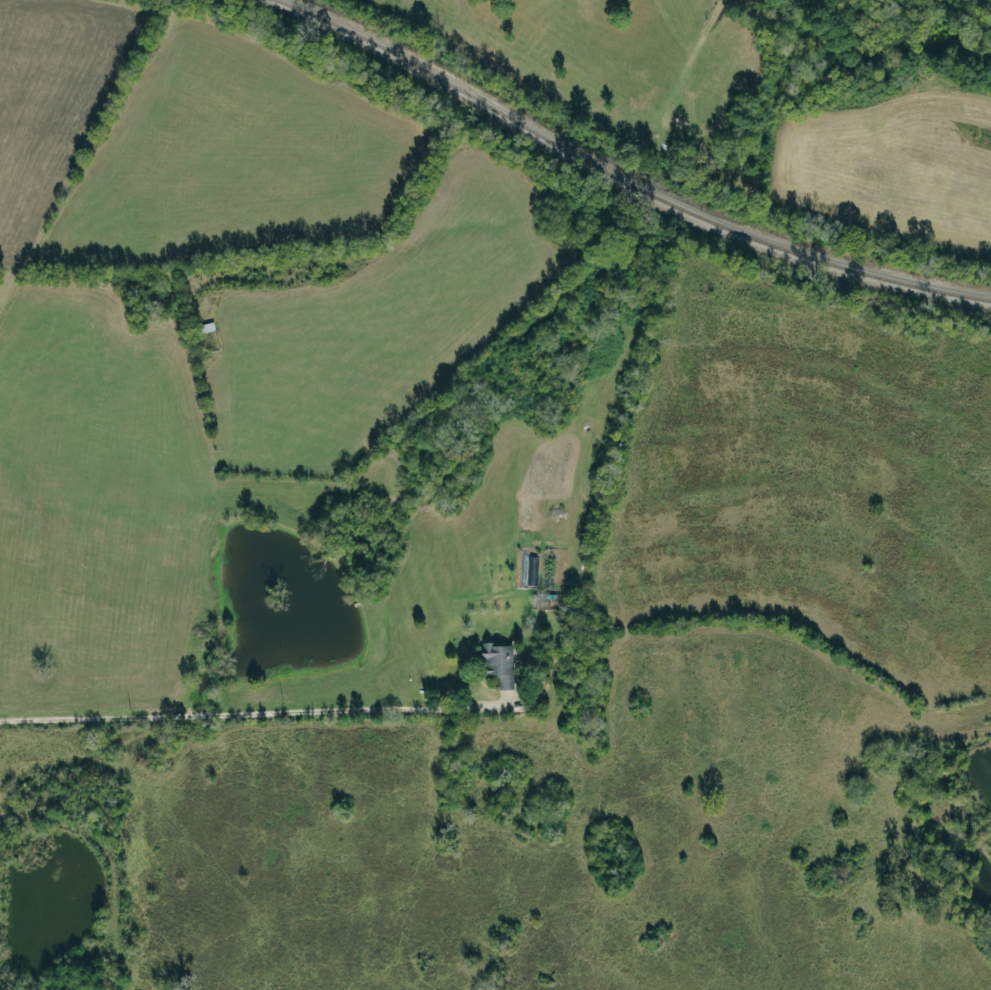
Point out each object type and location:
railway: (410, 64)
railway: (758, 238)
building: (497, 665)
road: (183, 714)

